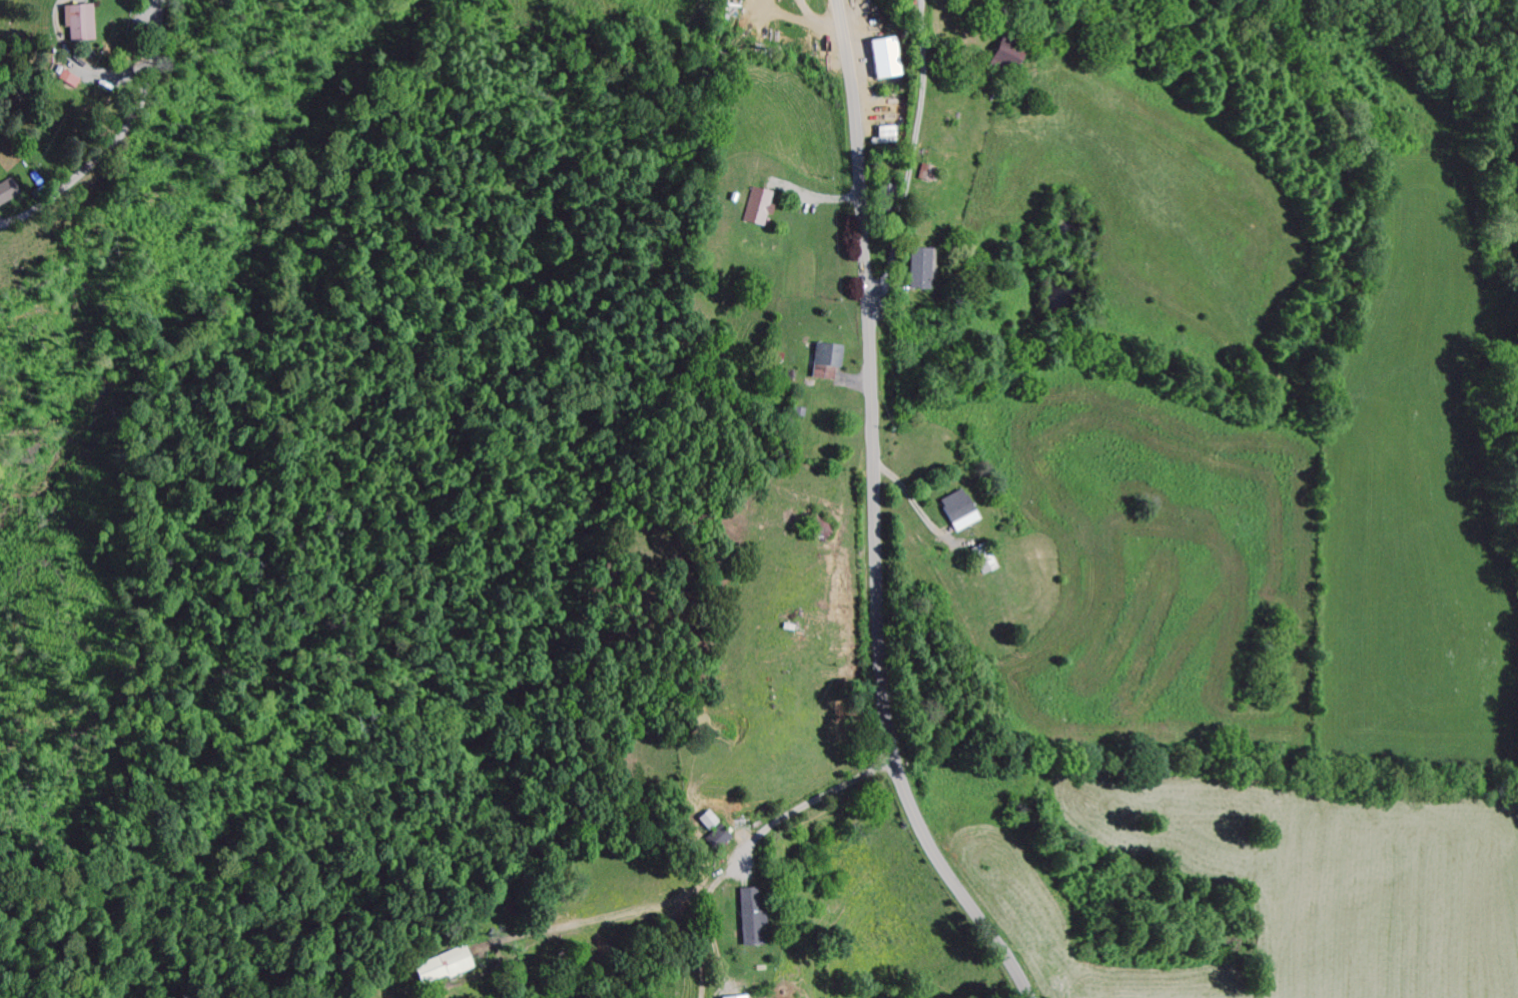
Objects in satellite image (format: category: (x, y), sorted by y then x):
building: (88, 25)
building: (995, 60)
building: (880, 61)
building: (77, 81)
road: (115, 106)
building: (883, 137)
road: (914, 154)
building: (7, 193)
building: (754, 210)
building: (914, 272)
building: (822, 362)
building: (953, 513)
road: (873, 517)
building: (710, 830)
building: (746, 918)
building: (439, 969)
building: (740, 997)

